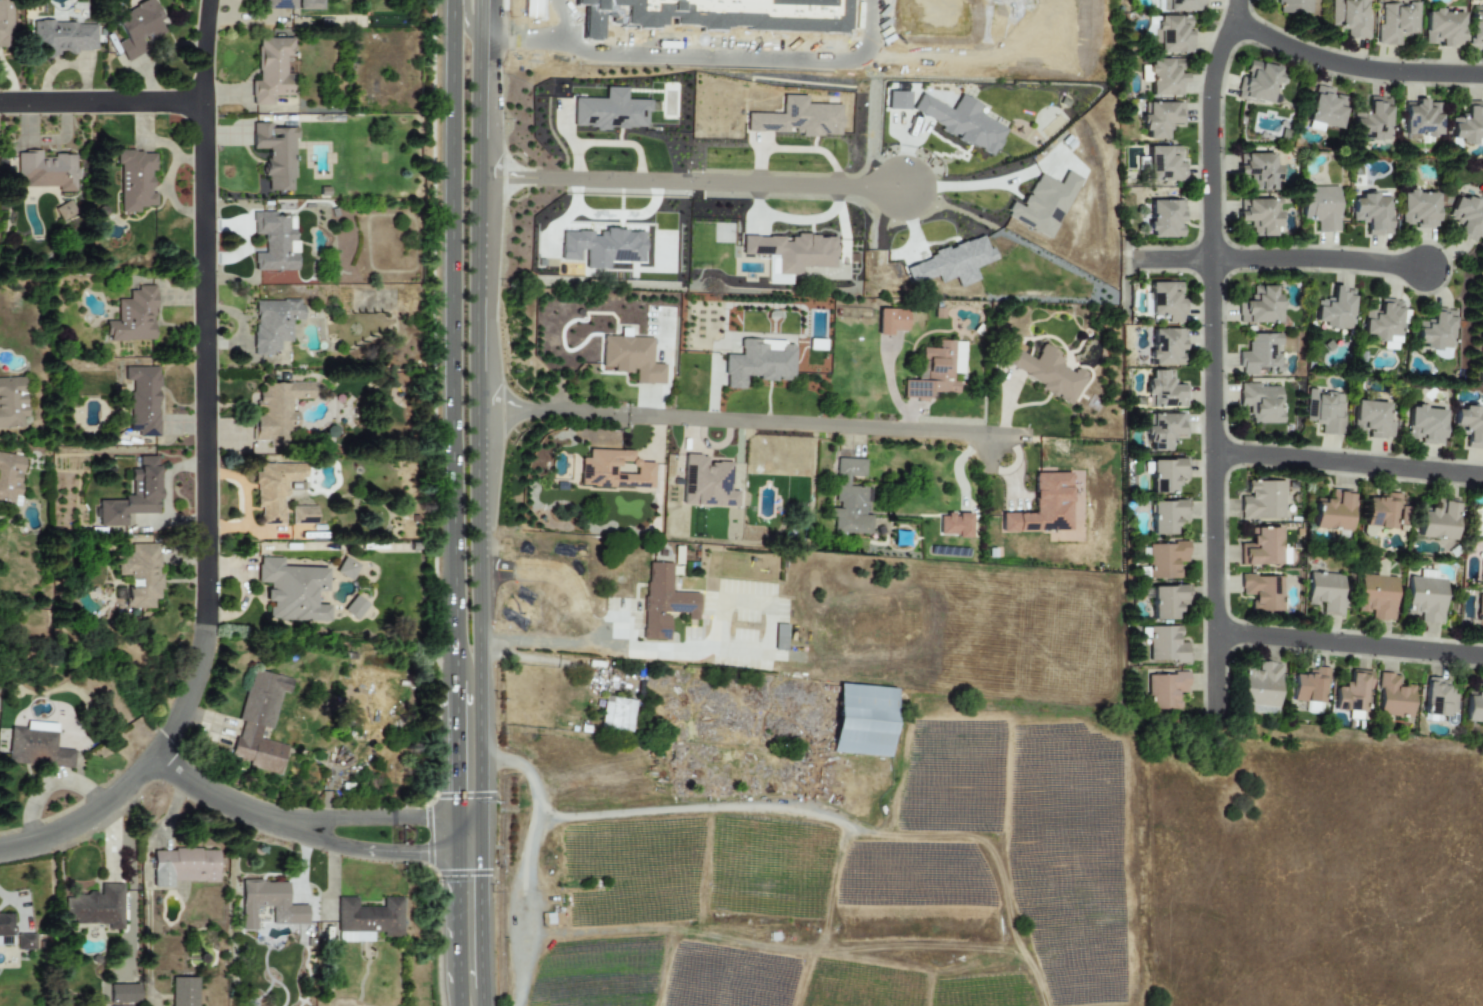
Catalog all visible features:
building: (293, 4)
building: (1182, 6)
building: (1292, 6)
road: (1237, 13)
building: (1350, 17)
road: (464, 18)
road: (568, 21)
building: (1395, 21)
building: (5, 22)
building: (139, 27)
building: (1441, 27)
building: (1475, 27)
building: (1173, 34)
building: (64, 38)
road: (525, 45)
road: (750, 66)
road: (1355, 68)
building: (271, 70)
building: (1163, 77)
building: (1257, 82)
building: (897, 100)
road: (102, 102)
building: (1325, 109)
building: (610, 111)
building: (1372, 118)
building: (797, 119)
building: (1421, 119)
building: (1161, 120)
building: (962, 122)
building: (1468, 124)
building: (275, 153)
building: (1165, 163)
building: (46, 170)
building: (1259, 171)
building: (135, 179)
road: (690, 182)
road: (968, 186)
building: (1043, 204)
building: (1320, 207)
building: (1417, 209)
building: (1371, 211)
building: (1260, 217)
building: (1164, 218)
building: (1467, 218)
building: (275, 242)
building: (603, 248)
building: (791, 254)
road: (1175, 258)
road: (1320, 259)
building: (951, 263)
building: (1166, 301)
building: (1261, 307)
building: (1335, 309)
road: (205, 312)
building: (134, 316)
building: (892, 322)
building: (1384, 322)
building: (273, 323)
road: (452, 325)
road: (476, 326)
building: (1437, 331)
building: (1165, 345)
building: (1261, 354)
building: (632, 358)
building: (758, 363)
building: (931, 372)
building: (1044, 372)
road: (1216, 372)
building: (1162, 389)
road: (558, 393)
building: (143, 399)
building: (12, 402)
building: (1262, 402)
road: (620, 410)
building: (1325, 410)
road: (541, 411)
road: (620, 419)
building: (1371, 421)
building: (1424, 424)
building: (1469, 425)
road: (832, 426)
building: (1163, 430)
road: (988, 454)
road: (1350, 466)
building: (615, 471)
building: (1162, 473)
building: (10, 476)
building: (706, 483)
building: (275, 489)
building: (133, 495)
building: (850, 499)
building: (1262, 500)
building: (1043, 505)
building: (1381, 510)
building: (1332, 512)
building: (303, 515)
building: (1164, 516)
building: (1437, 522)
building: (954, 525)
building: (1262, 546)
building: (1164, 559)
building: (346, 569)
building: (1482, 571)
building: (139, 576)
building: (291, 590)
building: (1262, 591)
building: (1326, 592)
building: (1377, 593)
building: (1426, 599)
building: (663, 600)
building: (1167, 601)
building: (354, 607)
building: (1479, 612)
road: (621, 628)
building: (780, 637)
building: (1164, 644)
road: (600, 647)
road: (1350, 647)
building: (1310, 685)
building: (1260, 688)
building: (1163, 689)
building: (1352, 692)
road: (190, 694)
building: (1391, 697)
building: (1438, 700)
building: (1311, 708)
building: (1473, 708)
building: (617, 714)
building: (863, 720)
road: (457, 722)
building: (41, 726)
road: (479, 743)
building: (39, 751)
building: (261, 755)
traffic signals: (458, 787)
road: (236, 806)
road: (678, 811)
road: (328, 812)
road: (86, 817)
road: (403, 817)
road: (162, 826)
road: (458, 834)
road: (401, 855)
traffic signals: (422, 855)
road: (531, 856)
road: (304, 864)
building: (185, 872)
traffic signals: (479, 881)
road: (331, 894)
building: (101, 910)
road: (479, 911)
building: (273, 912)
road: (458, 920)
building: (373, 923)
building: (5, 929)
road: (543, 930)
building: (25, 942)
road: (459, 986)
building: (189, 994)
building: (128, 995)
road: (482, 997)

